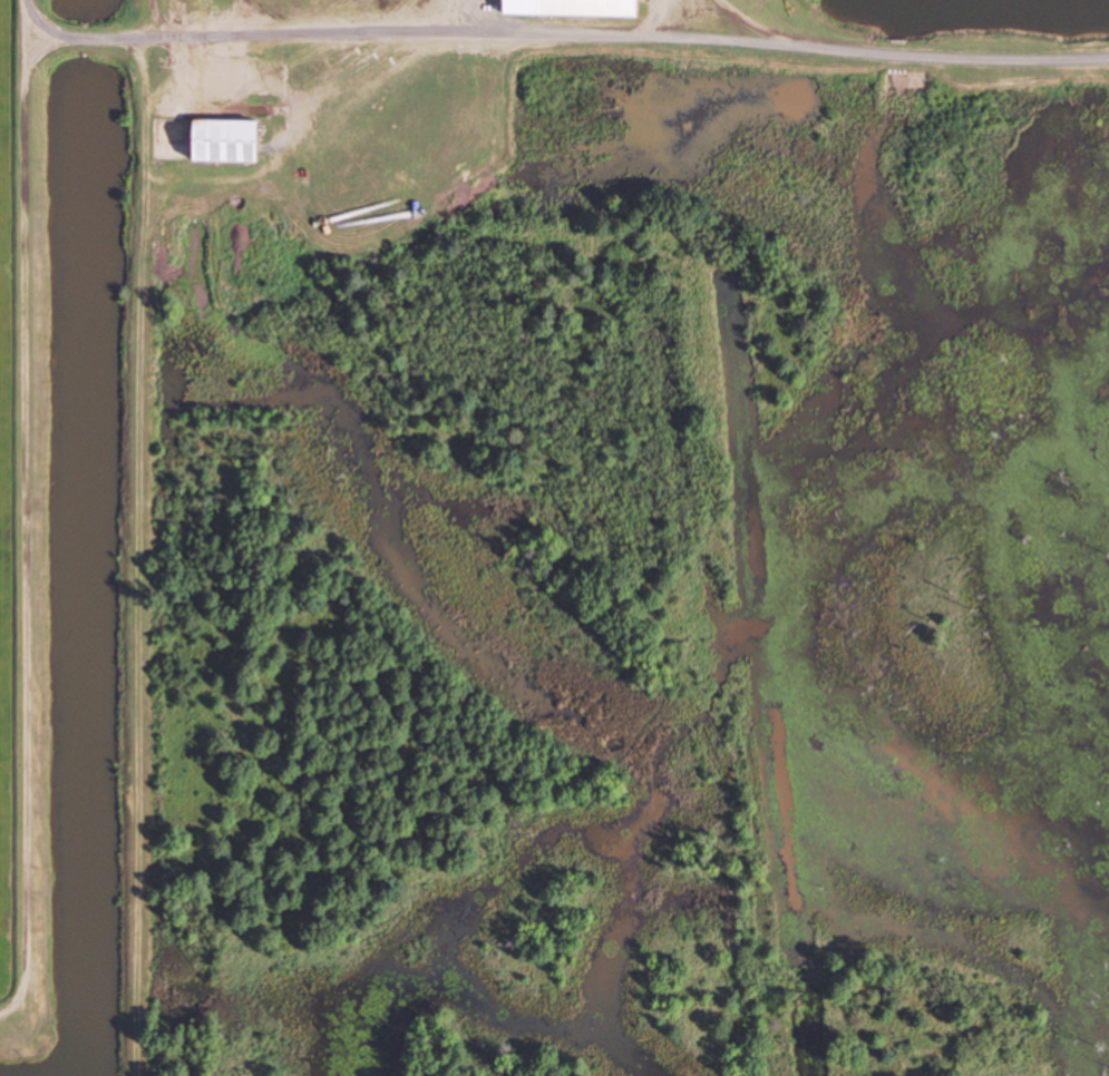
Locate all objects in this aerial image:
building: (574, 7)
road: (554, 115)
building: (227, 140)
crop: (22, 540)

